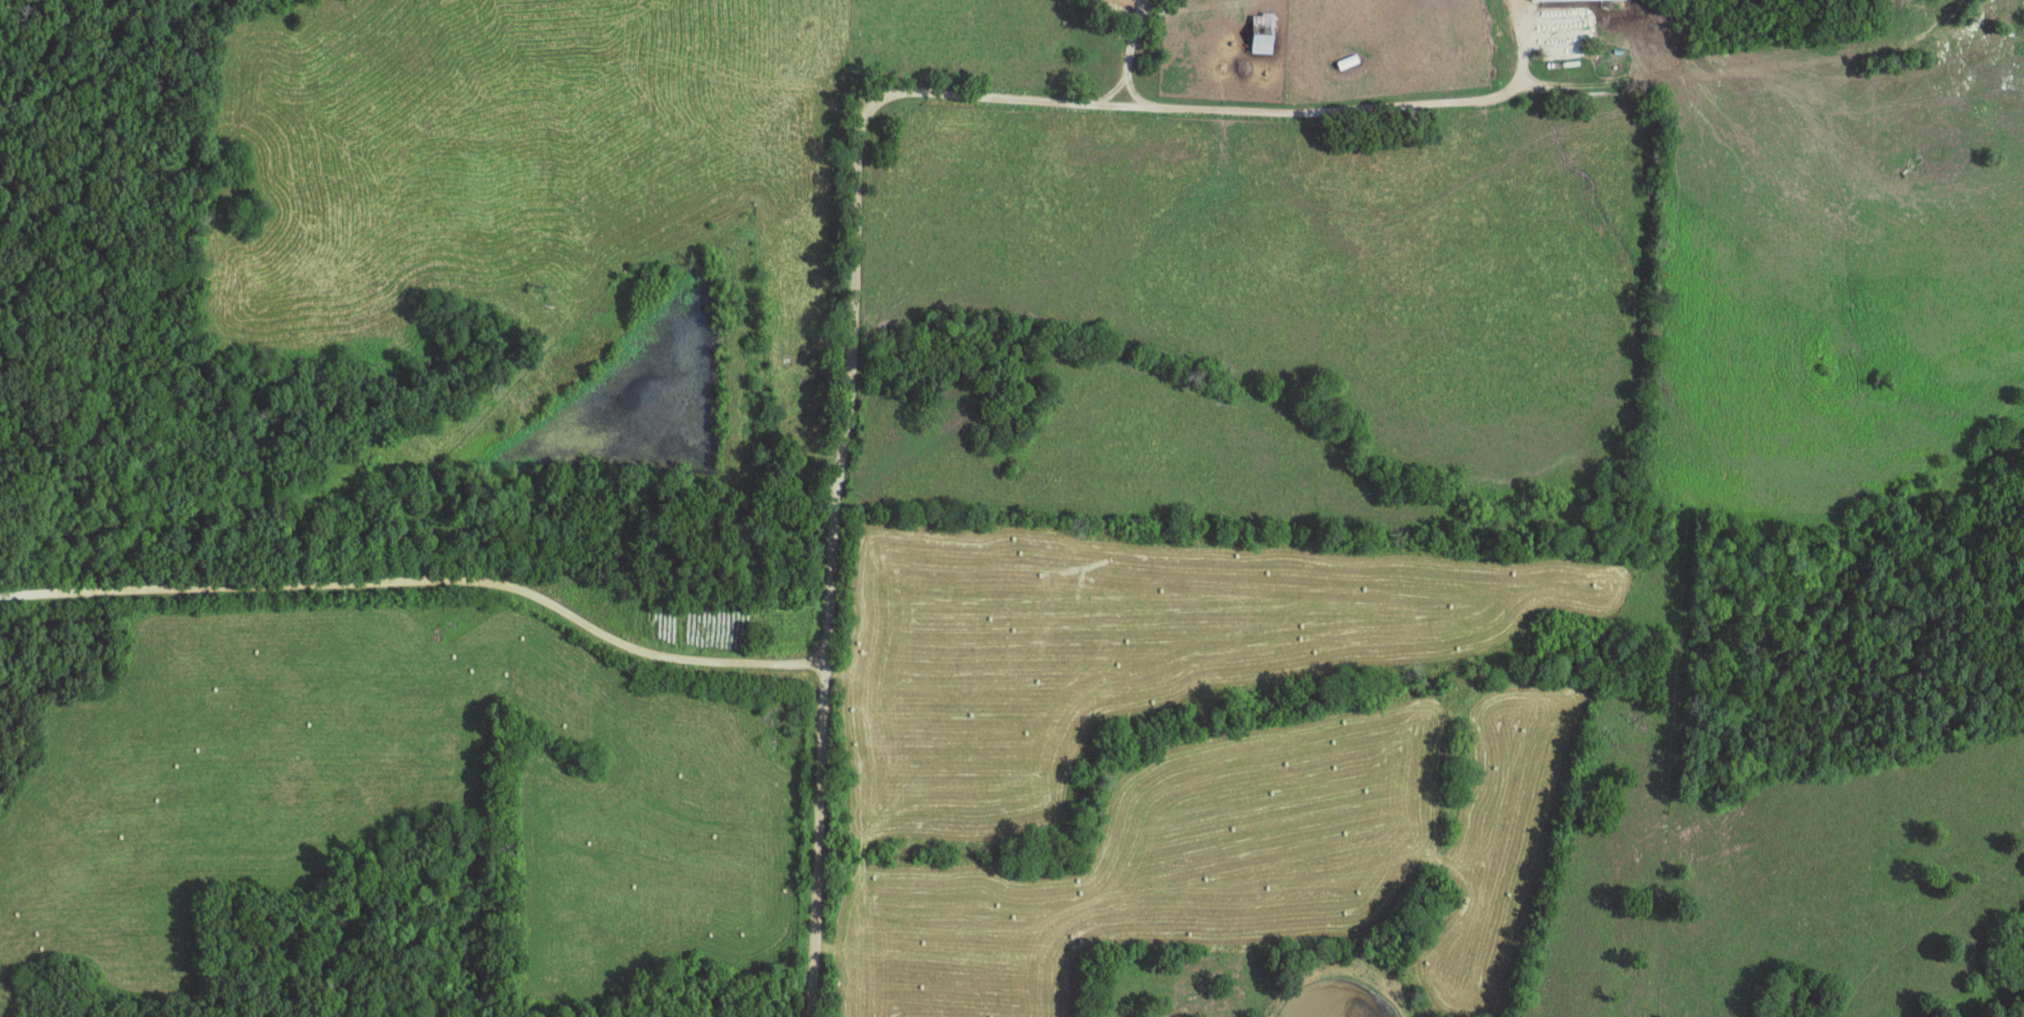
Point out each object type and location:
building: (1575, 0)
building: (1114, 1)
building: (1260, 18)
building: (1256, 43)
building: (1346, 62)
road: (849, 188)
road: (114, 588)
road: (532, 589)

